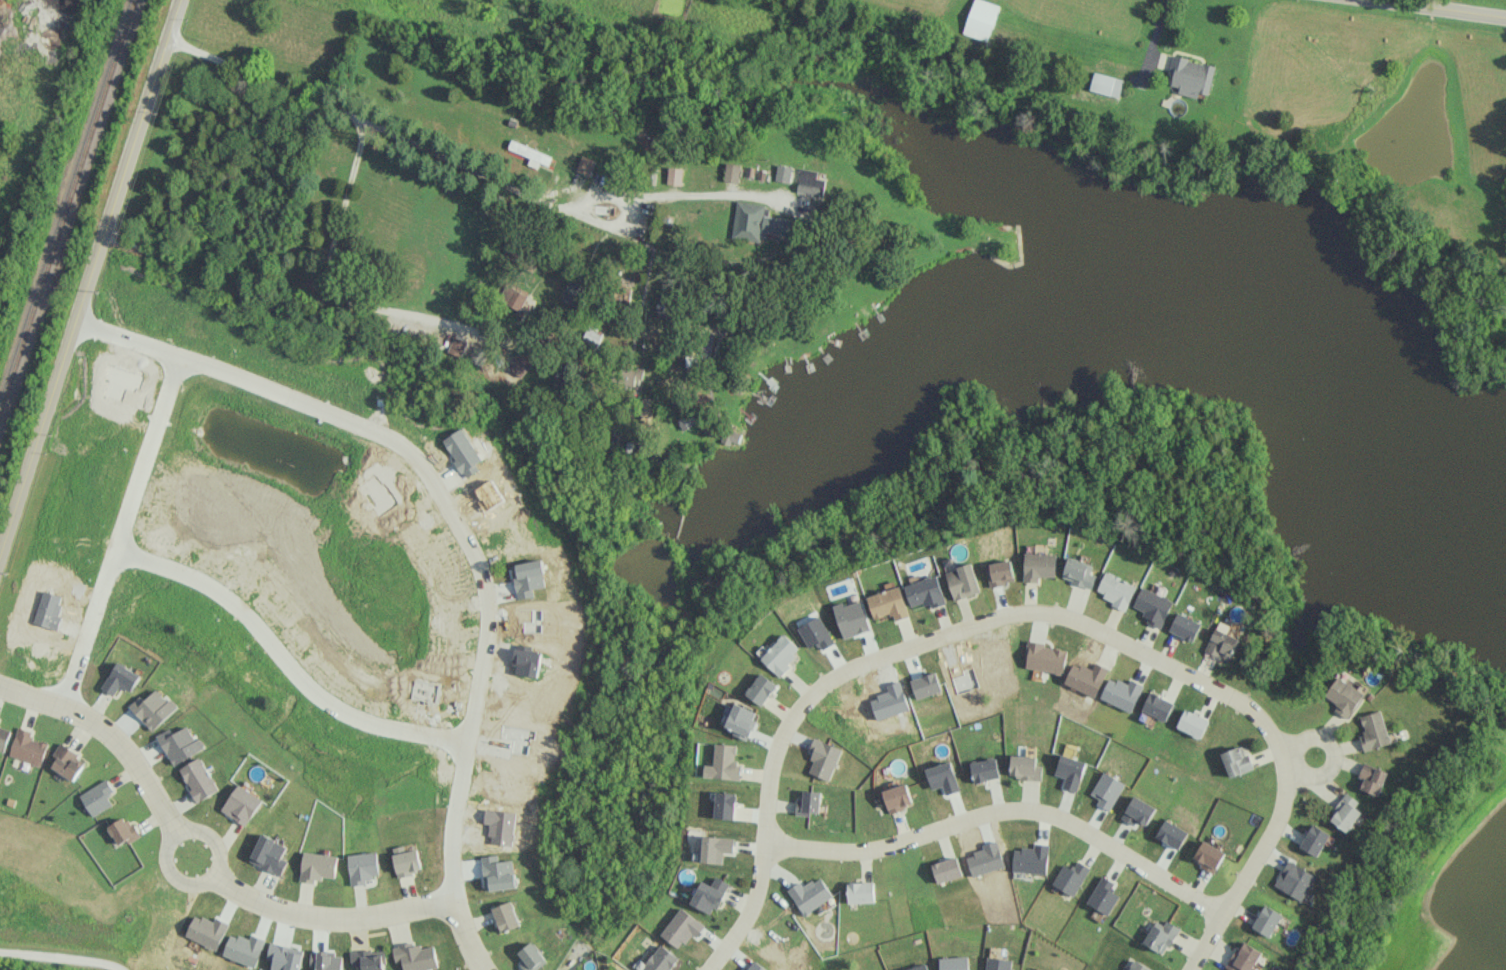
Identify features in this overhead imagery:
road: (1438, 10)
building: (981, 19)
road: (173, 20)
road: (1153, 39)
building: (1191, 76)
building: (1107, 84)
building: (531, 154)
road: (462, 163)
building: (585, 165)
building: (732, 172)
building: (784, 173)
building: (674, 175)
building: (812, 181)
railway: (67, 205)
building: (757, 222)
road: (328, 277)
building: (575, 291)
road: (83, 295)
building: (516, 299)
building: (661, 304)
building: (456, 347)
building: (477, 355)
building: (632, 374)
building: (687, 420)
road: (452, 497)
road: (127, 528)
building: (1038, 566)
building: (1078, 572)
building: (962, 581)
building: (1116, 590)
building: (925, 592)
building: (888, 603)
building: (1153, 606)
building: (1185, 626)
road: (918, 644)
road: (289, 650)
building: (781, 654)
building: (1046, 658)
building: (123, 678)
building: (762, 688)
building: (1344, 696)
building: (1157, 706)
building: (742, 720)
building: (1192, 723)
building: (1373, 731)
road: (113, 732)
building: (4, 738)
building: (29, 747)
road: (1332, 752)
building: (824, 758)
building: (1237, 760)
building: (70, 761)
building: (724, 763)
building: (1025, 767)
building: (985, 769)
building: (1070, 771)
building: (200, 779)
building: (1371, 779)
building: (99, 797)
building: (897, 797)
building: (809, 803)
building: (243, 804)
building: (725, 805)
road: (1003, 807)
building: (1138, 811)
building: (1346, 813)
building: (125, 830)
building: (1314, 839)
building: (405, 848)
building: (271, 854)
building: (1208, 856)
building: (408, 862)
building: (319, 866)
building: (364, 866)
building: (947, 869)
road: (1247, 872)
road: (212, 875)
building: (1071, 877)
building: (1294, 880)
building: (861, 892)
building: (710, 894)
building: (810, 894)
building: (1103, 895)
road: (363, 916)
building: (506, 916)
building: (1267, 920)
building: (682, 927)
building: (1161, 936)
building: (416, 956)
road: (63, 957)
building: (531, 957)
building: (1244, 957)
building: (369, 959)
building: (997, 963)
building: (1138, 966)
building: (918, 967)

